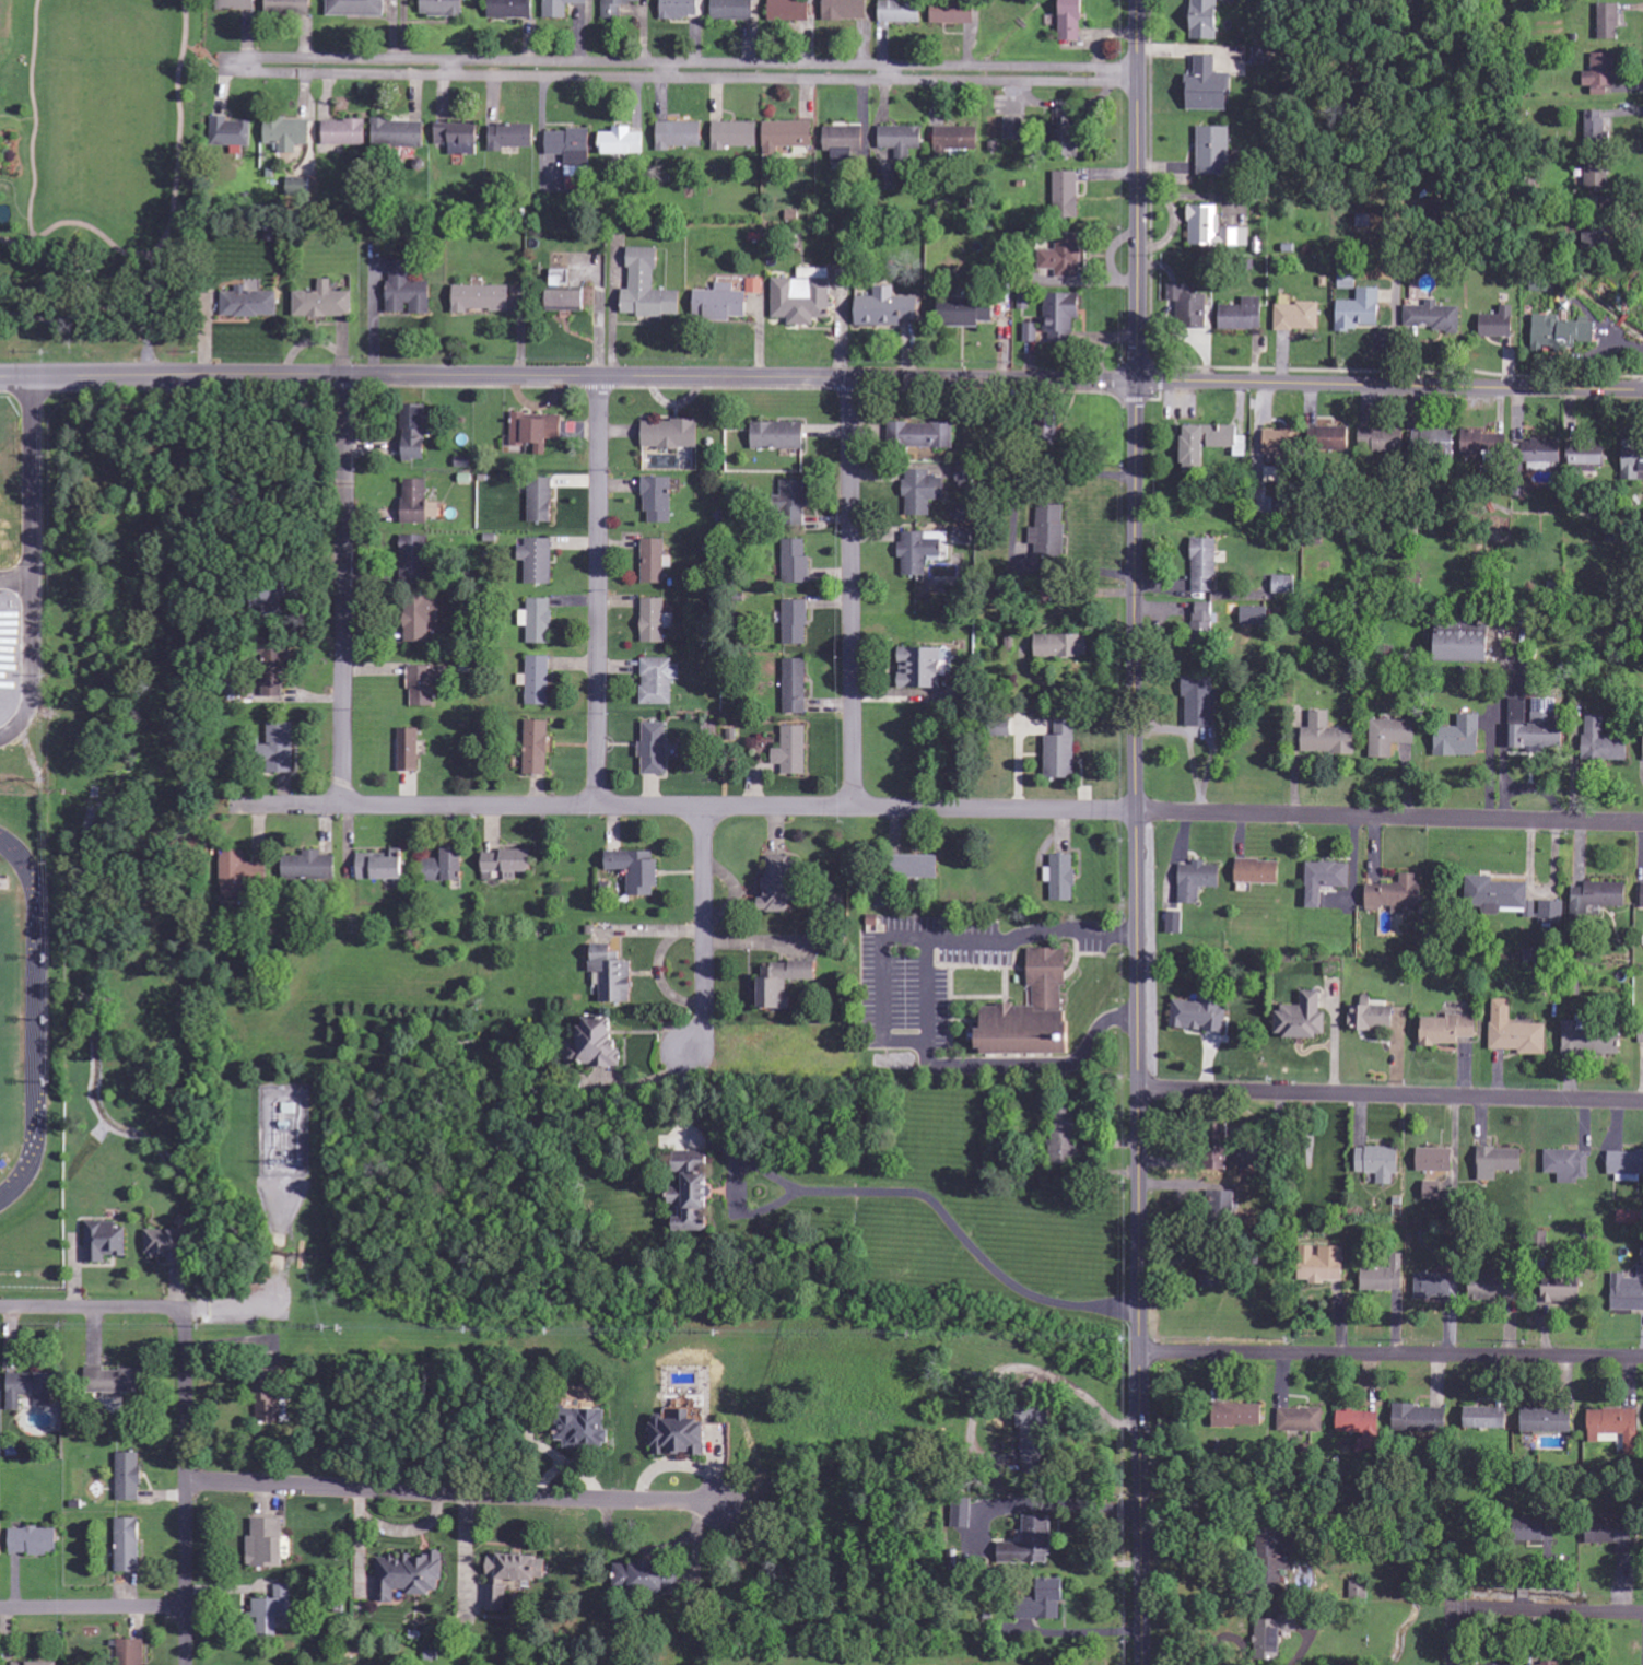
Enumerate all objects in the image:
building: (237, 4)
building: (290, 7)
building: (356, 8)
building: (444, 8)
building: (561, 8)
building: (614, 8)
building: (512, 9)
building: (680, 9)
building: (734, 10)
building: (789, 10)
building: (845, 10)
building: (901, 12)
building: (954, 12)
building: (1072, 20)
building: (1206, 20)
building: (1609, 22)
building: (1260, 57)
road: (688, 63)
building: (1601, 75)
road: (695, 77)
building: (1209, 86)
road: (104, 117)
road: (36, 118)
building: (1068, 124)
building: (1595, 128)
building: (1014, 129)
road: (174, 130)
building: (231, 132)
building: (345, 132)
building: (287, 133)
building: (399, 133)
building: (736, 134)
building: (680, 136)
building: (788, 136)
building: (512, 137)
building: (459, 138)
building: (957, 138)
building: (902, 140)
building: (623, 142)
building: (846, 143)
building: (572, 151)
building: (1216, 151)
park: (95, 155)
building: (1597, 180)
building: (298, 186)
building: (1068, 195)
building: (1214, 228)
building: (1598, 237)
building: (1066, 256)
road: (143, 257)
building: (1347, 278)
building: (1541, 284)
building: (755, 286)
building: (648, 288)
building: (408, 291)
building: (803, 296)
building: (482, 298)
building: (572, 301)
building: (324, 302)
building: (721, 303)
building: (249, 304)
building: (1190, 305)
building: (888, 308)
building: (969, 310)
building: (1361, 310)
building: (1244, 315)
building: (1063, 316)
building: (1299, 317)
building: (1434, 317)
building: (1500, 324)
building: (1032, 332)
building: (1563, 333)
road: (568, 376)
traffic signals: (1137, 382)
road: (1389, 385)
building: (537, 431)
building: (1054, 431)
building: (416, 434)
building: (672, 434)
building: (781, 435)
building: (922, 435)
building: (1330, 438)
building: (1383, 441)
building: (1435, 443)
building: (1208, 444)
building: (1280, 449)
building: (1545, 452)
building: (1589, 454)
building: (1633, 461)
building: (963, 476)
building: (923, 492)
building: (795, 499)
building: (541, 500)
building: (658, 500)
building: (419, 503)
building: (1049, 531)
building: (1208, 550)
building: (922, 551)
building: (414, 560)
building: (538, 561)
building: (654, 561)
building: (796, 562)
building: (1284, 585)
road: (347, 591)
road: (597, 591)
road: (852, 595)
building: (270, 605)
building: (423, 617)
building: (1254, 617)
building: (539, 621)
building: (656, 621)
building: (796, 622)
building: (1204, 624)
building: (1467, 644)
building: (1064, 646)
building: (277, 668)
building: (924, 668)
building: (538, 681)
building: (659, 681)
building: (427, 684)
building: (796, 687)
building: (1201, 702)
building: (1535, 728)
building: (1328, 736)
building: (1392, 736)
building: (1460, 738)
building: (1606, 742)
building: (280, 748)
building: (538, 748)
building: (655, 749)
building: (411, 750)
building: (794, 751)
building: (1061, 751)
road: (944, 810)
road: (1137, 832)
building: (507, 865)
building: (312, 866)
building: (383, 866)
building: (1067, 866)
building: (446, 867)
building: (920, 867)
building: (637, 871)
building: (1259, 872)
building: (242, 873)
building: (1326, 880)
building: (1198, 881)
building: (782, 886)
building: (1399, 895)
building: (1495, 895)
building: (1598, 898)
building: (887, 901)
building: (1552, 913)
building: (1175, 923)
road: (703, 931)
building: (613, 975)
building: (786, 983)
building: (1035, 1012)
building: (1200, 1016)
building: (1373, 1016)
building: (1304, 1018)
building: (1451, 1030)
building: (1517, 1032)
building: (1641, 1034)
building: (1591, 1042)
building: (601, 1043)
road: (1392, 1092)
power substation: (284, 1130)
building: (1065, 1137)
building: (1436, 1160)
building: (1500, 1162)
building: (1381, 1163)
building: (1569, 1165)
building: (1436, 1191)
building: (694, 1193)
building: (1222, 1203)
building: (1630, 1218)
building: (106, 1242)
building: (169, 1248)
building: (1321, 1265)
building: (1212, 1275)
building: (1380, 1279)
building: (1434, 1286)
building: (1495, 1287)
building: (1564, 1290)
building: (1628, 1292)
road: (92, 1308)
road: (1392, 1353)
building: (116, 1381)
building: (31, 1390)
building: (270, 1403)
building: (1237, 1416)
building: (1487, 1418)
building: (1420, 1419)
building: (1301, 1420)
building: (1548, 1420)
building: (1617, 1427)
building: (1361, 1428)
building: (585, 1430)
building: (681, 1437)
building: (1035, 1442)
building: (130, 1475)
road: (186, 1486)
road: (455, 1492)
building: (962, 1515)
building: (1539, 1531)
building: (35, 1541)
building: (1031, 1544)
building: (267, 1545)
building: (128, 1546)
building: (1274, 1550)
building: (409, 1576)
building: (513, 1578)
building: (642, 1578)
building: (1358, 1591)
building: (1045, 1603)
road: (93, 1607)
road: (1522, 1608)
building: (272, 1611)
building: (1286, 1629)
building: (132, 1652)
building: (35, 1664)
building: (1503, 1664)

